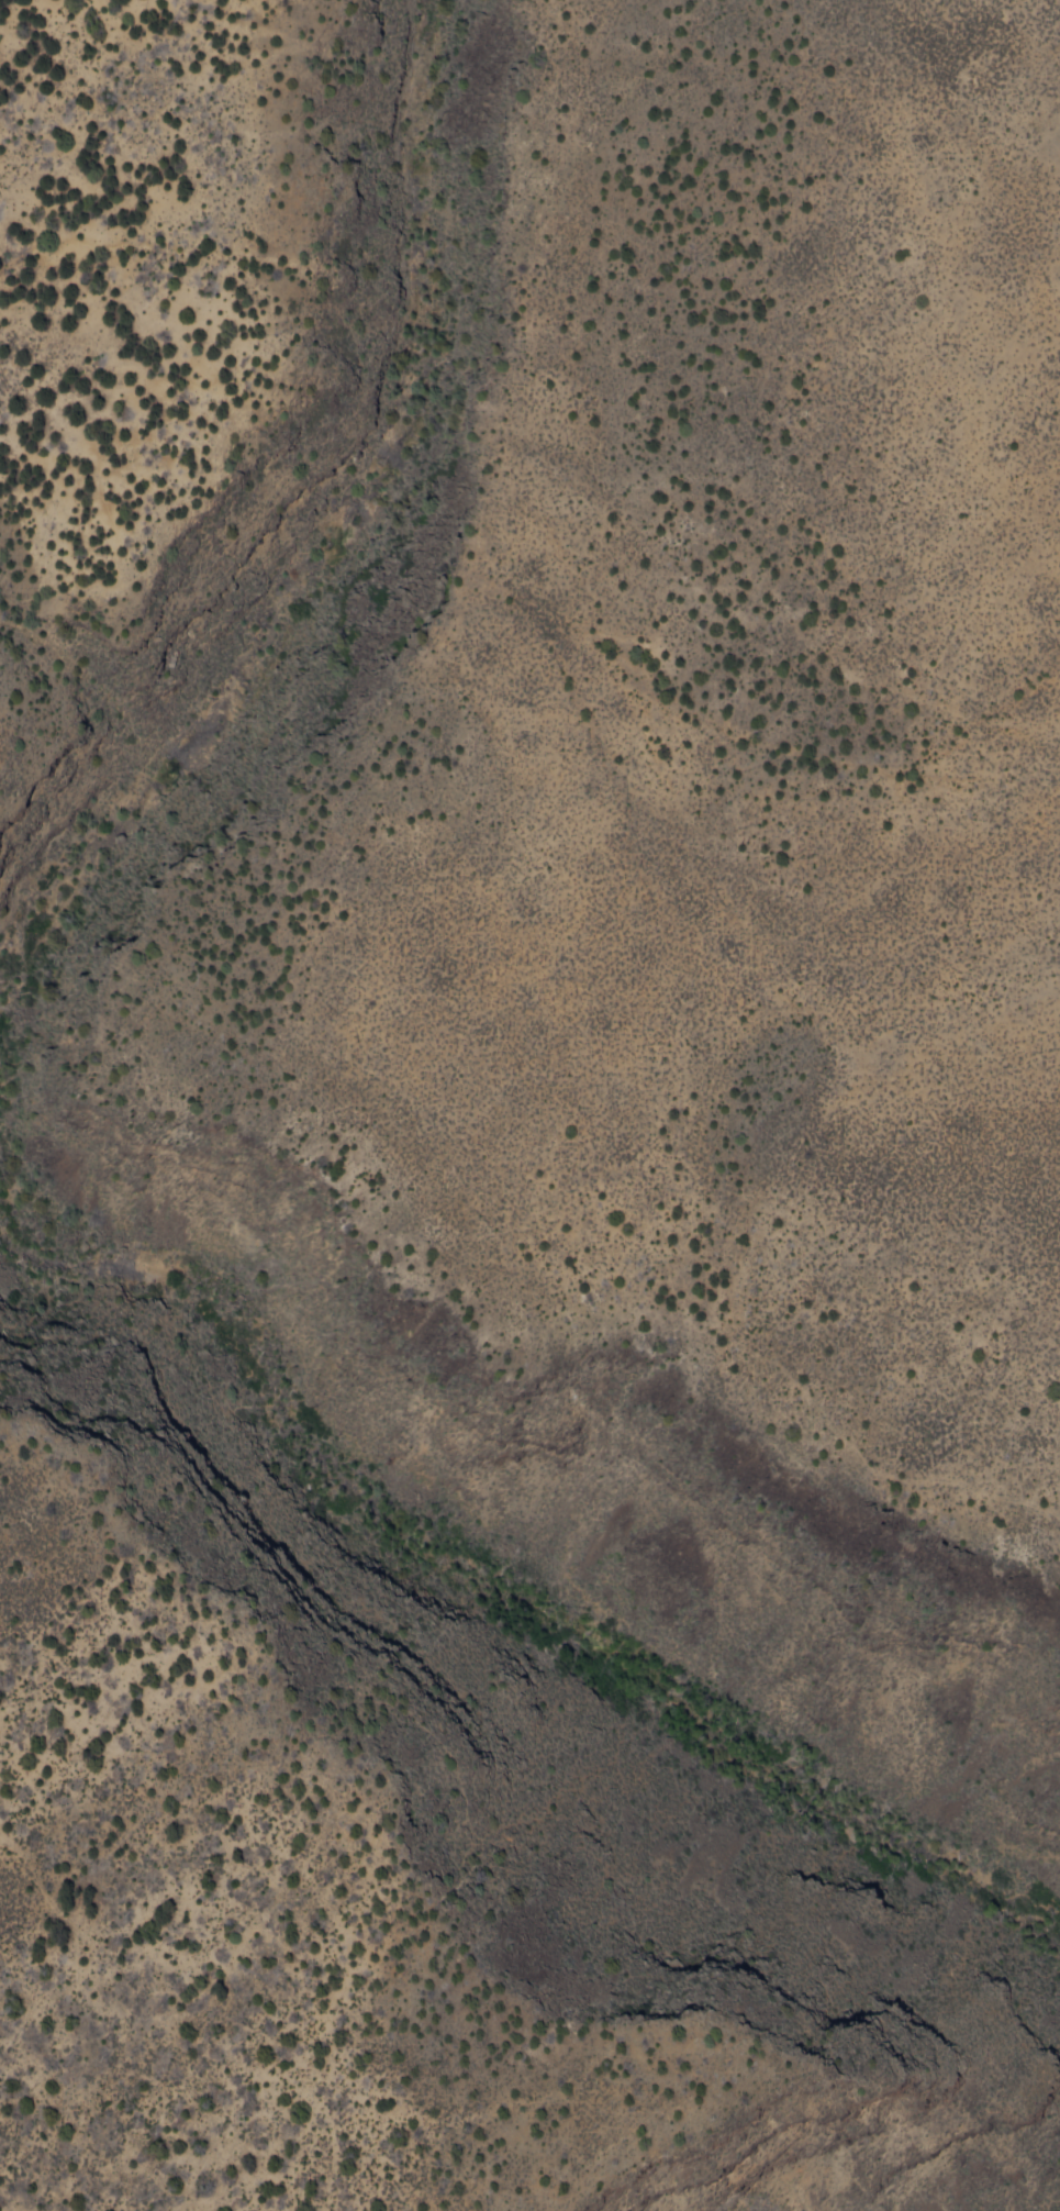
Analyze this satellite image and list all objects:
road: (931, 1481)

